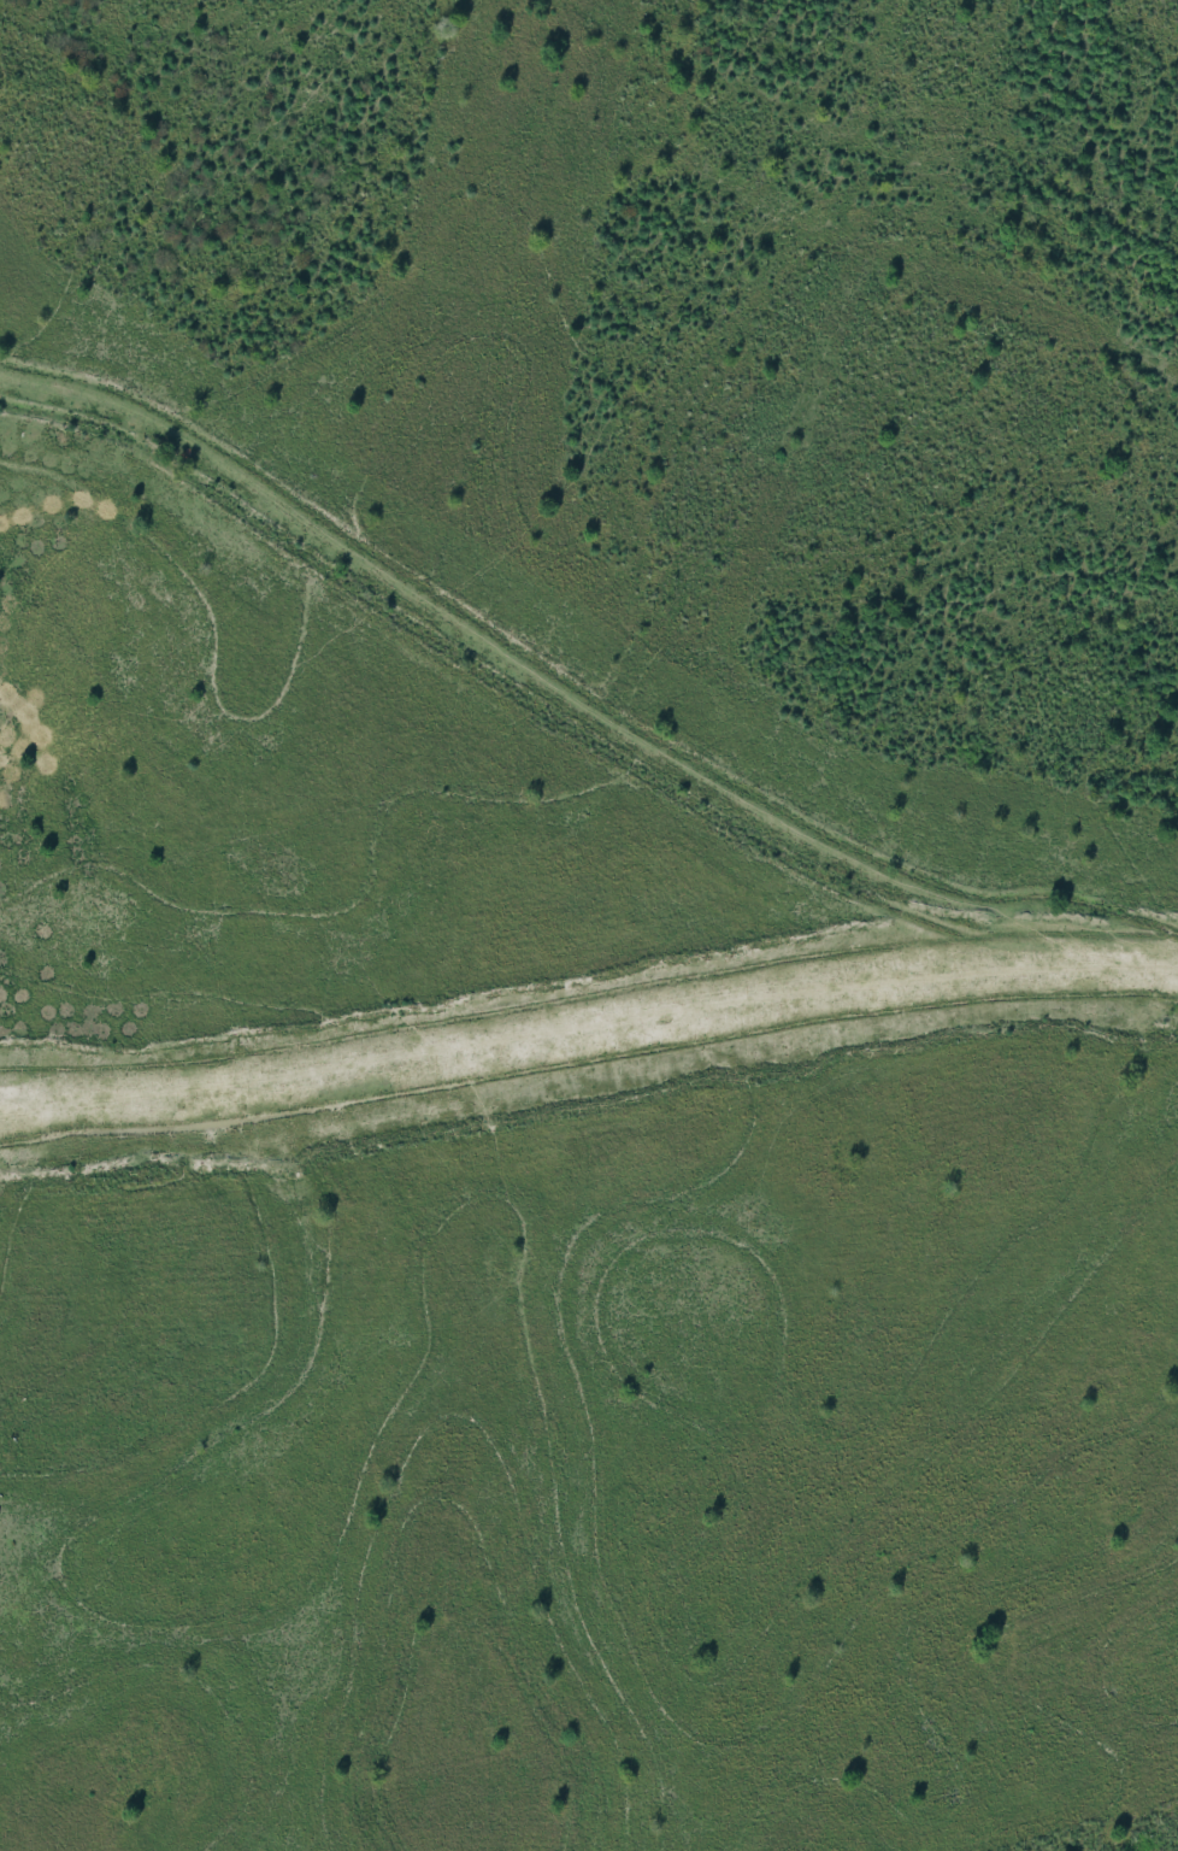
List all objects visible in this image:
railway: (590, 113)
road: (589, 1036)

